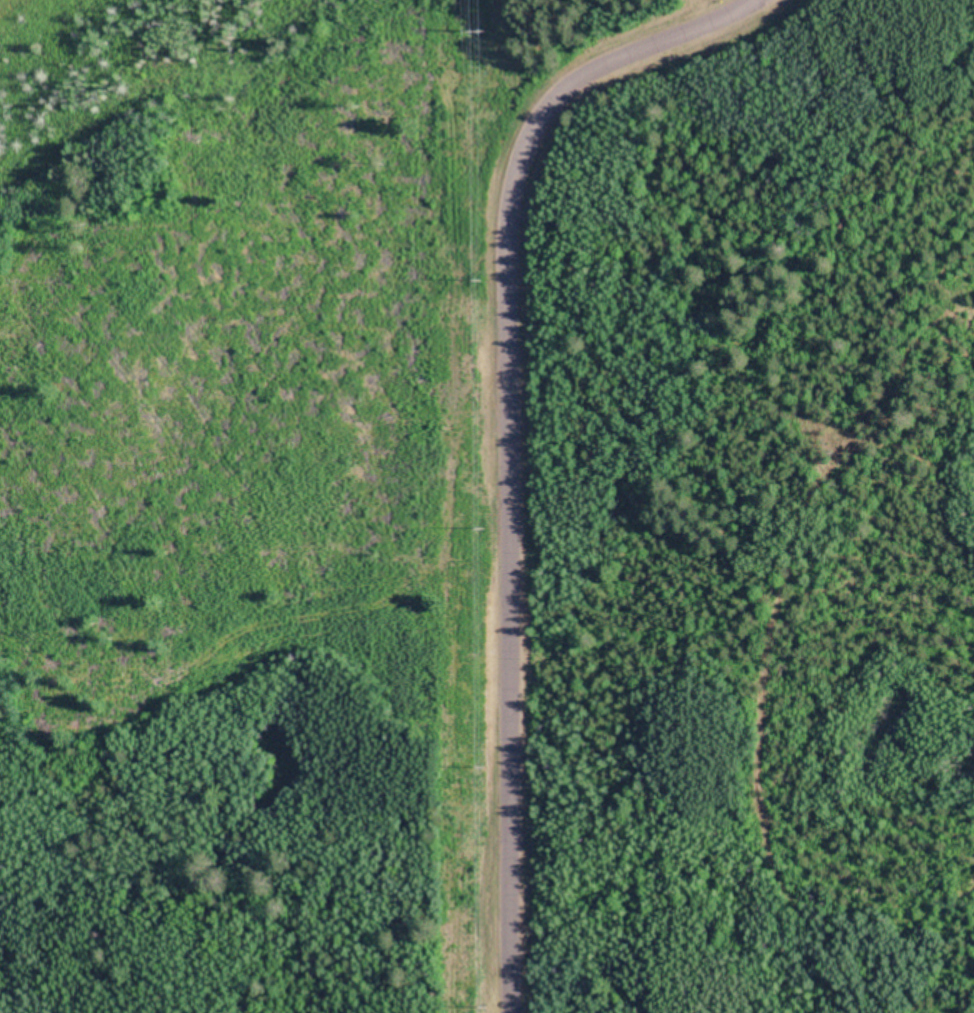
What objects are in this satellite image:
road: (480, 424)

